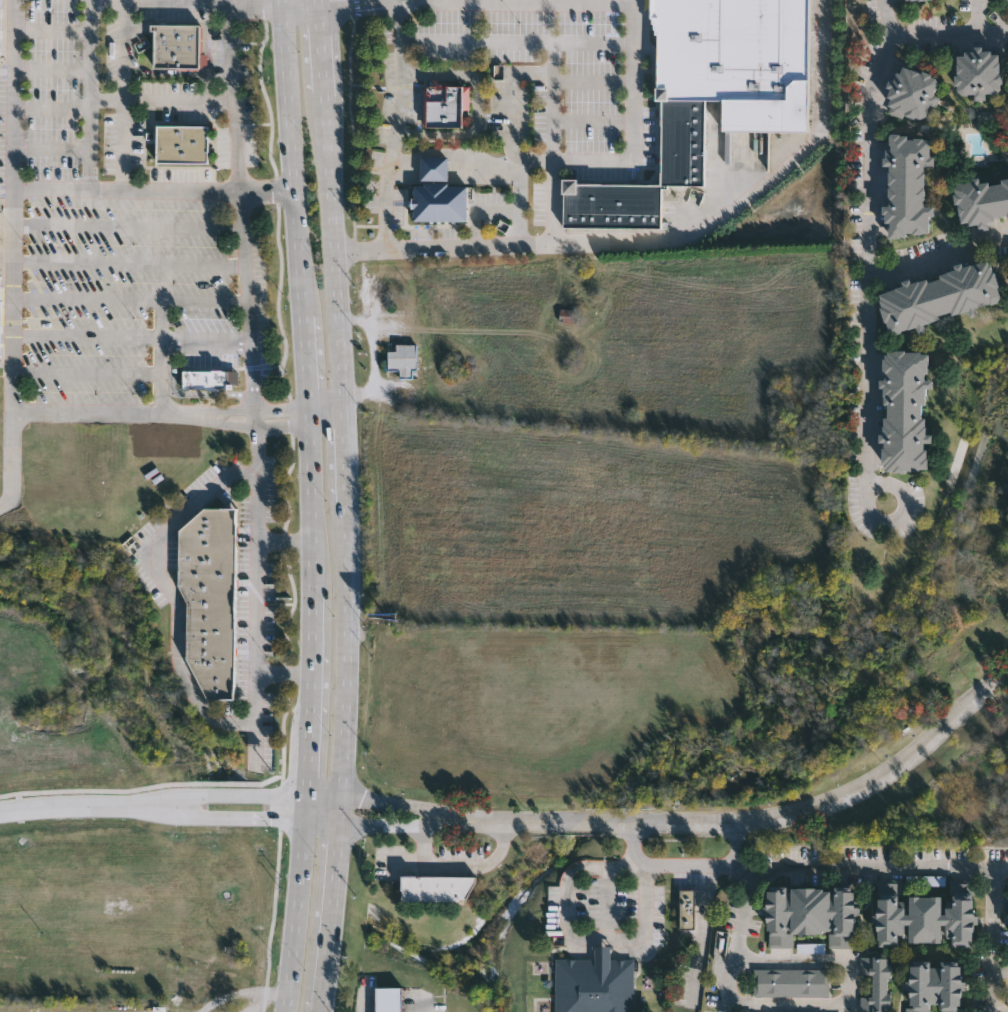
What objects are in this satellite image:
building: (905, 0)
road: (161, 2)
road: (353, 3)
road: (281, 4)
road: (256, 5)
road: (298, 7)
road: (973, 16)
building: (0, 17)
road: (53, 30)
road: (949, 33)
building: (178, 46)
road: (552, 60)
building: (738, 60)
parking lot: (525, 68)
road: (53, 70)
building: (981, 70)
building: (912, 92)
road: (91, 93)
road: (162, 98)
building: (447, 104)
road: (477, 106)
road: (53, 107)
parking lot: (62, 108)
road: (397, 124)
building: (683, 142)
building: (182, 143)
road: (52, 148)
road: (631, 158)
road: (290, 162)
road: (532, 162)
road: (485, 163)
building: (1007, 174)
building: (908, 184)
road: (127, 187)
road: (266, 187)
building: (438, 193)
building: (981, 199)
building: (611, 206)
road: (241, 212)
road: (128, 223)
road: (662, 238)
road: (869, 251)
road: (14, 255)
road: (938, 256)
road: (129, 265)
building: (939, 296)
parking lot: (119, 299)
road: (131, 302)
building: (1, 314)
building: (570, 318)
road: (132, 338)
road: (367, 356)
road: (161, 357)
building: (404, 361)
road: (308, 362)
road: (88, 375)
building: (212, 380)
road: (326, 407)
building: (904, 409)
road: (250, 411)
road: (102, 412)
road: (311, 420)
road: (250, 423)
road: (327, 429)
road: (346, 505)
road: (316, 510)
road: (288, 544)
road: (167, 585)
road: (257, 592)
building: (210, 598)
road: (284, 673)
road: (312, 691)
road: (219, 792)
road: (388, 802)
road: (306, 806)
road: (66, 809)
road: (218, 818)
road: (759, 818)
road: (386, 826)
road: (735, 844)
road: (672, 863)
road: (402, 865)
road: (460, 867)
road: (873, 867)
road: (394, 872)
building: (434, 890)
road: (605, 903)
building: (687, 909)
building: (807, 913)
road: (297, 916)
building: (924, 919)
road: (701, 935)
road: (577, 937)
road: (991, 939)
road: (740, 944)
road: (999, 967)
building: (792, 980)
building: (596, 983)
building: (877, 983)
building: (936, 986)
building: (196, 987)
road: (849, 987)
road: (275, 993)
road: (229, 997)
building: (389, 1000)
road: (258, 1003)
road: (998, 1010)

